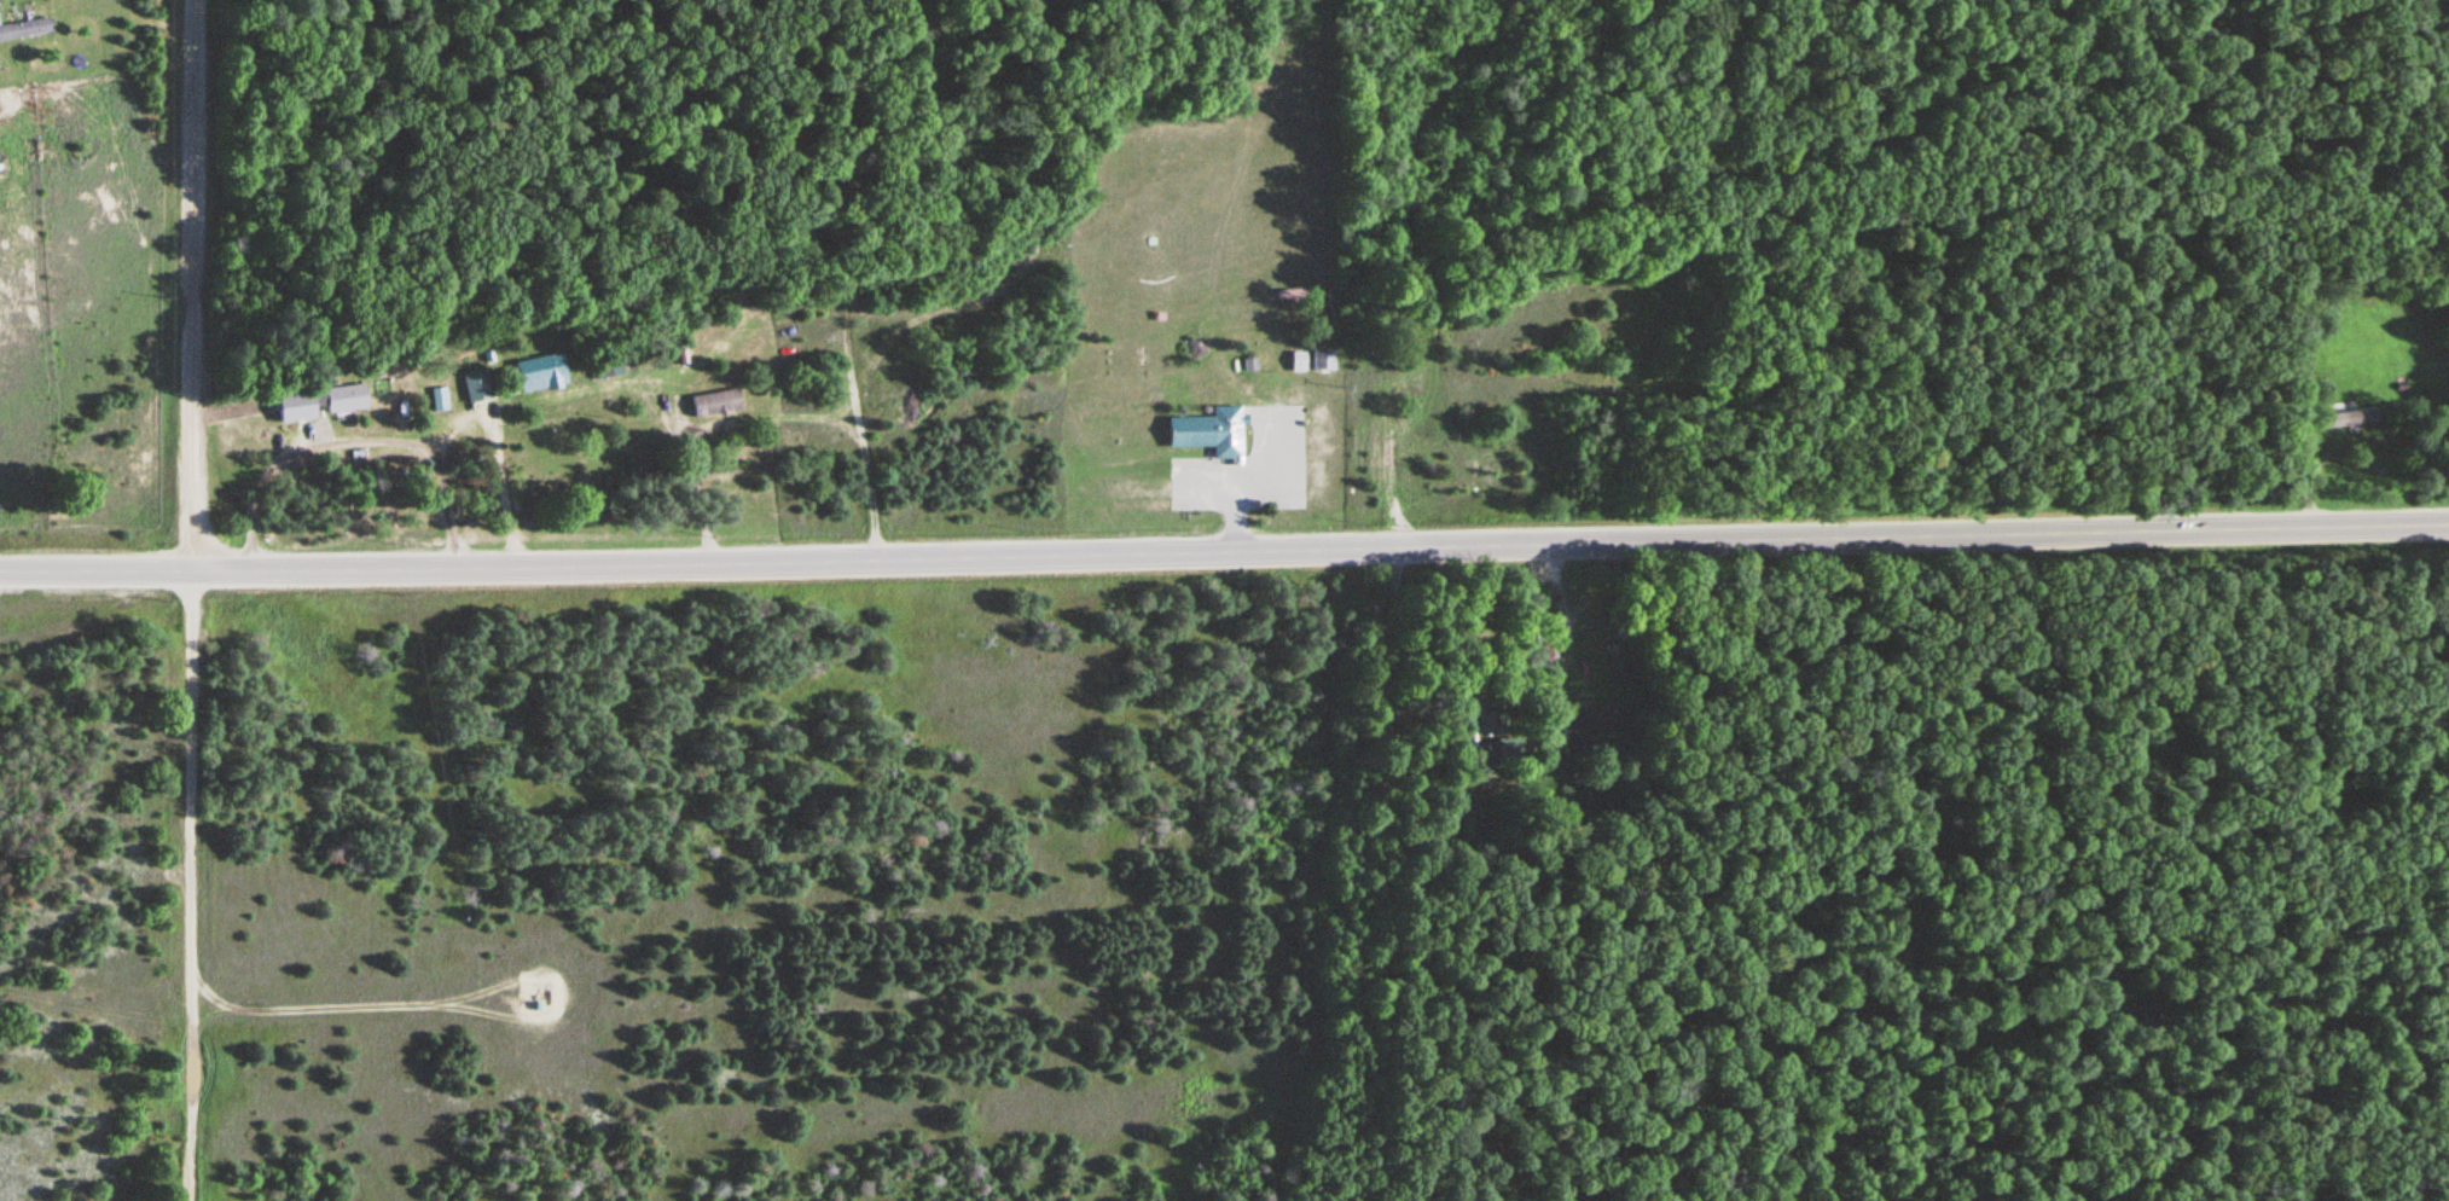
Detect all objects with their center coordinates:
building: (25, 30)
road: (1289, 83)
road: (1223, 214)
road: (190, 286)
building: (1322, 359)
building: (1296, 361)
building: (1248, 364)
building: (539, 370)
building: (475, 387)
building: (318, 402)
road: (231, 413)
building: (2352, 419)
building: (1209, 431)
road: (292, 449)
road: (493, 454)
road: (1275, 464)
parking lot: (1244, 468)
road: (2304, 482)
road: (1234, 487)
road: (442, 512)
road: (1224, 550)
road: (1563, 629)
building: (1491, 724)
building: (1583, 726)
building: (1509, 753)
road: (187, 887)
petroleum well: (540, 998)
road: (440, 1004)
petroleum well: (540, 1004)

